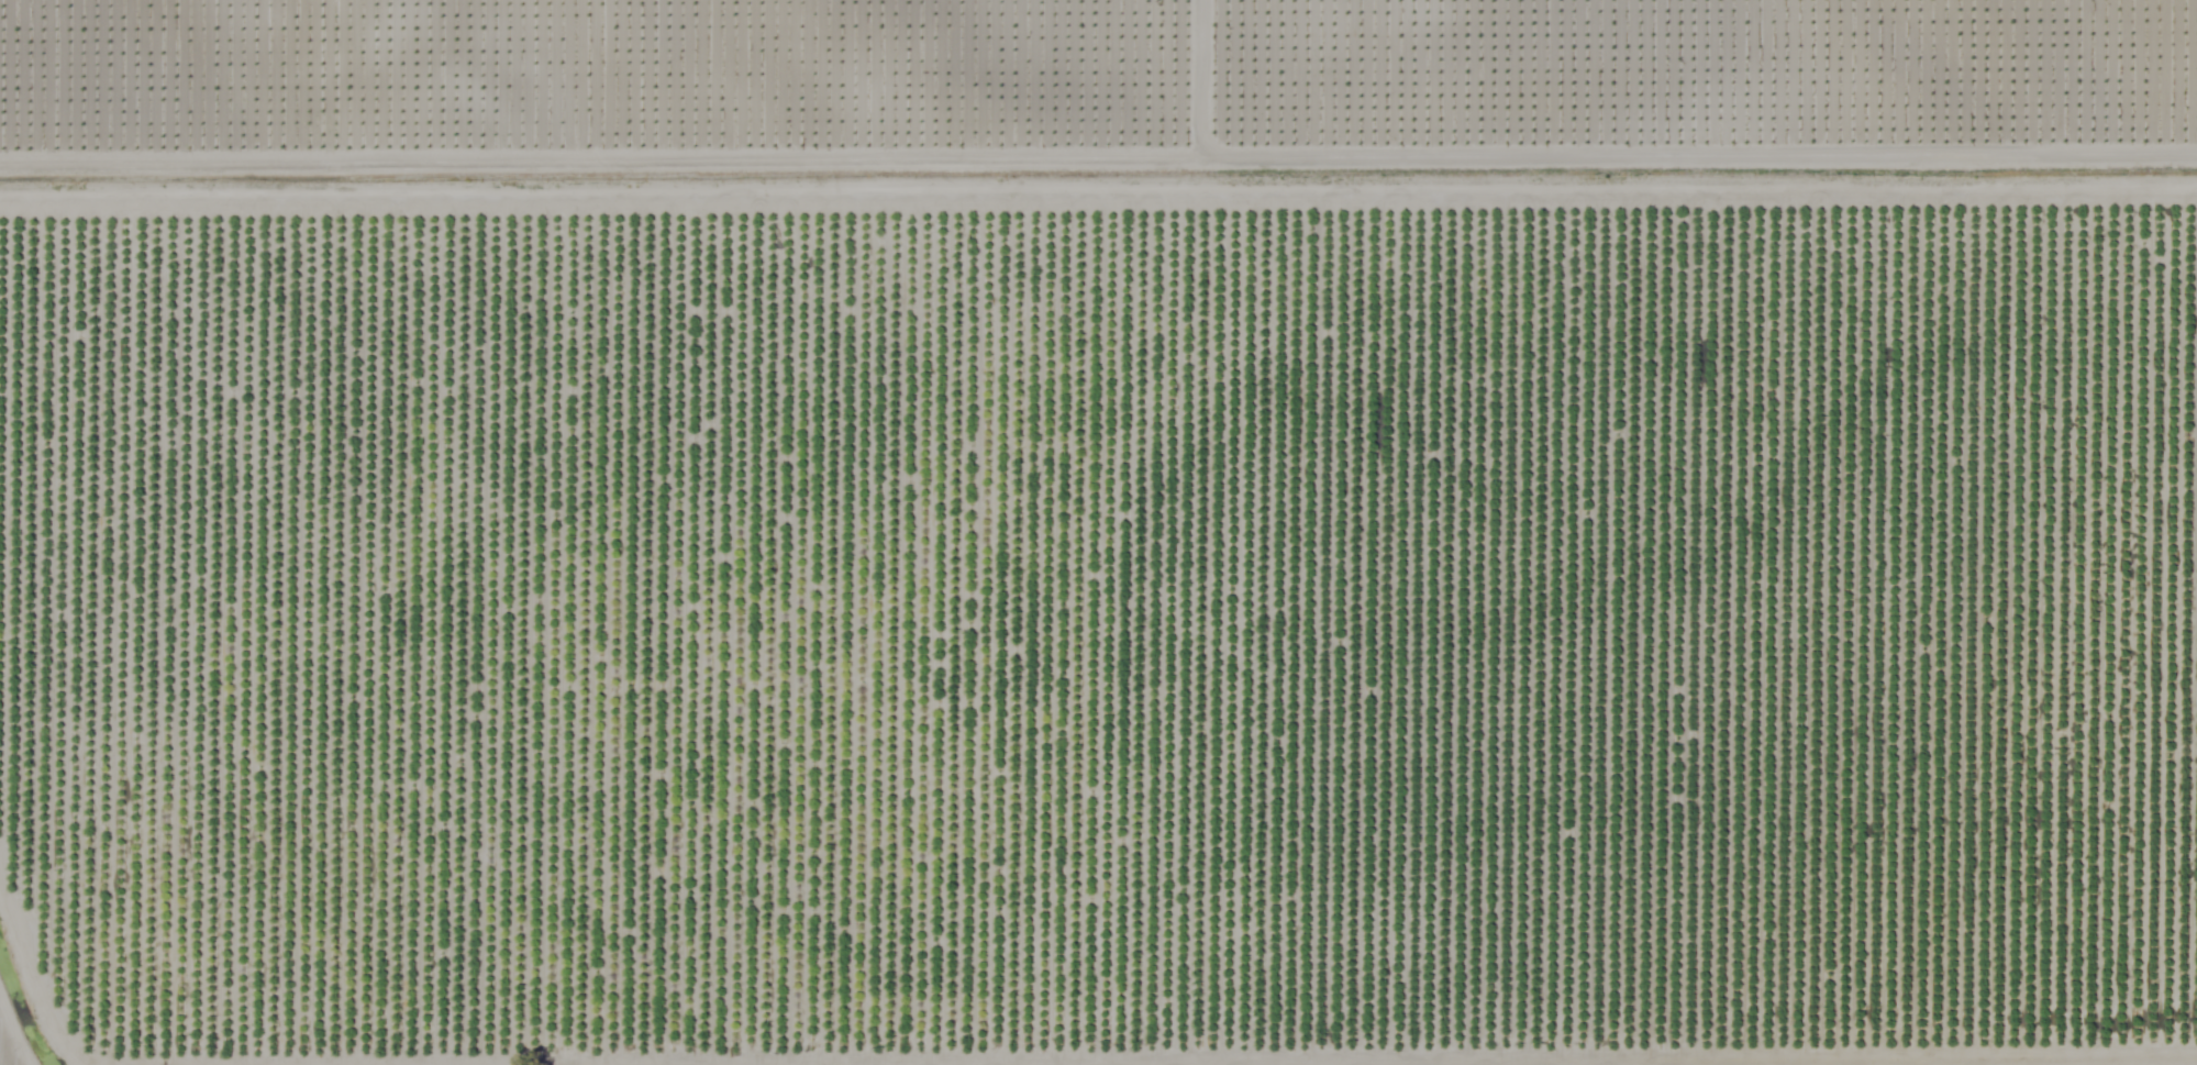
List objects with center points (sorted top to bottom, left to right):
road: (220, 109)
road: (1172, 111)
road: (2077, 112)
road: (1098, 221)
crop: (1098, 532)
road: (68, 922)

